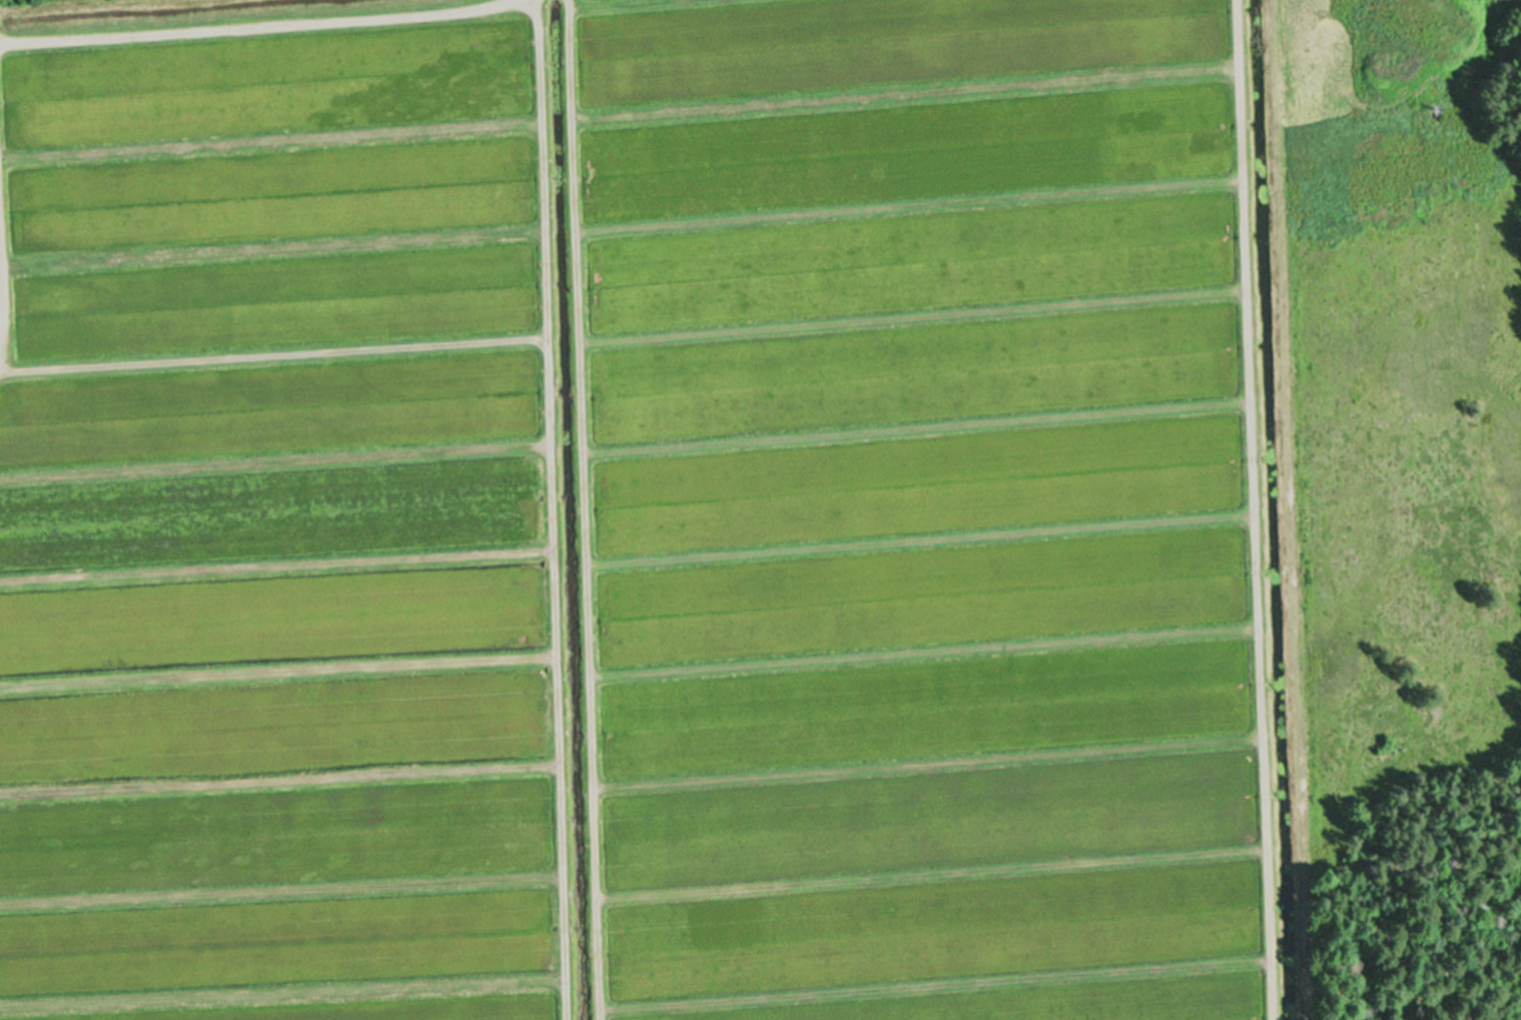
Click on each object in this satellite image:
road: (1506, 8)
road: (233, 103)
road: (603, 509)
crop: (647, 513)

